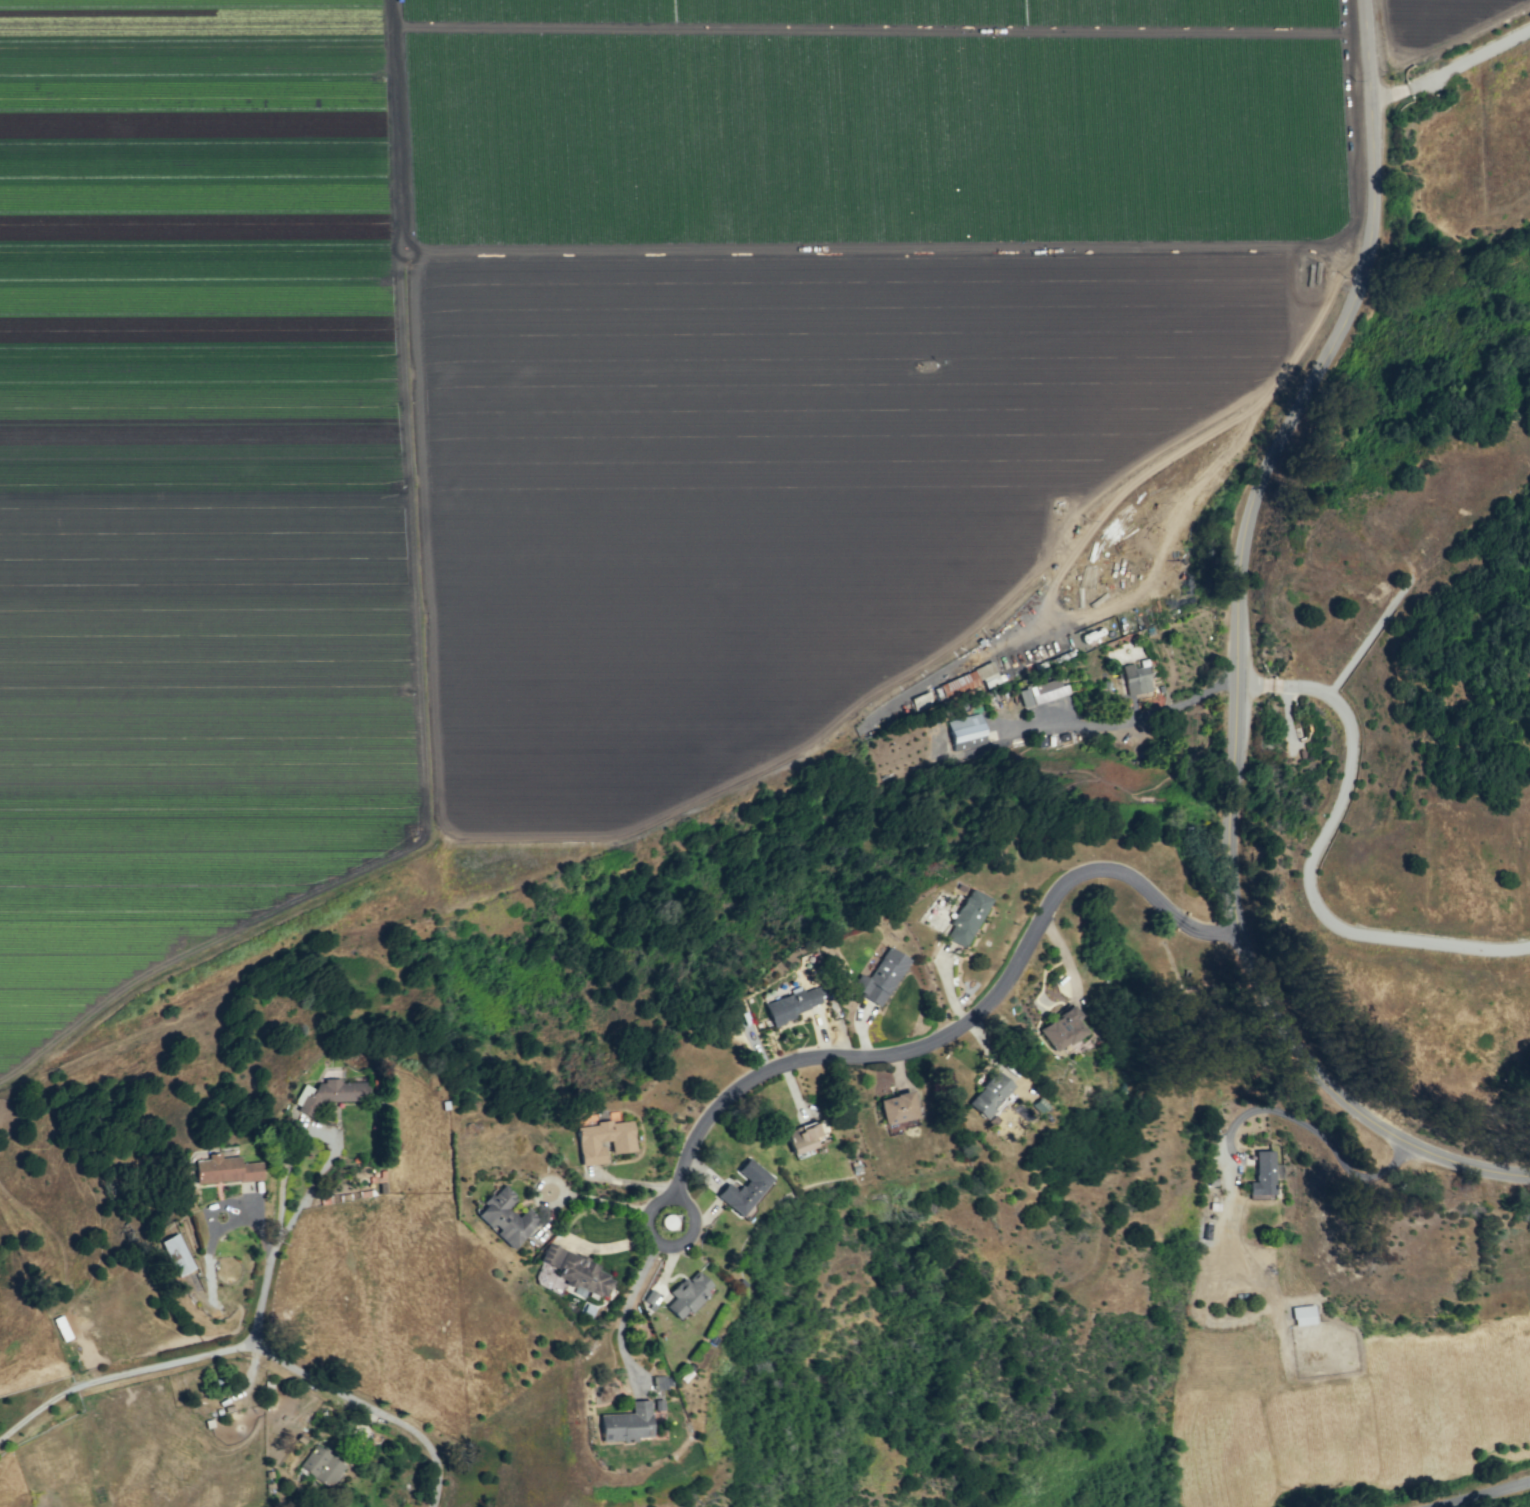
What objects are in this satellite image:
road: (1451, 64)
crop: (579, 405)
road: (1240, 657)
building: (987, 675)
building: (1135, 679)
building: (958, 684)
building: (1041, 692)
building: (920, 700)
road: (1141, 717)
building: (966, 732)
road: (1319, 863)
building: (966, 917)
building: (879, 976)
building: (792, 1003)
building: (1062, 1028)
road: (953, 1033)
building: (328, 1093)
building: (989, 1094)
building: (897, 1107)
road: (1310, 1128)
building: (803, 1137)
building: (603, 1140)
building: (224, 1169)
building: (1265, 1173)
building: (744, 1187)
building: (505, 1217)
building: (176, 1254)
road: (270, 1262)
building: (575, 1271)
road: (633, 1290)
building: (687, 1293)
building: (1302, 1315)
road: (249, 1343)
building: (627, 1423)
building: (321, 1466)
road: (1487, 1494)

